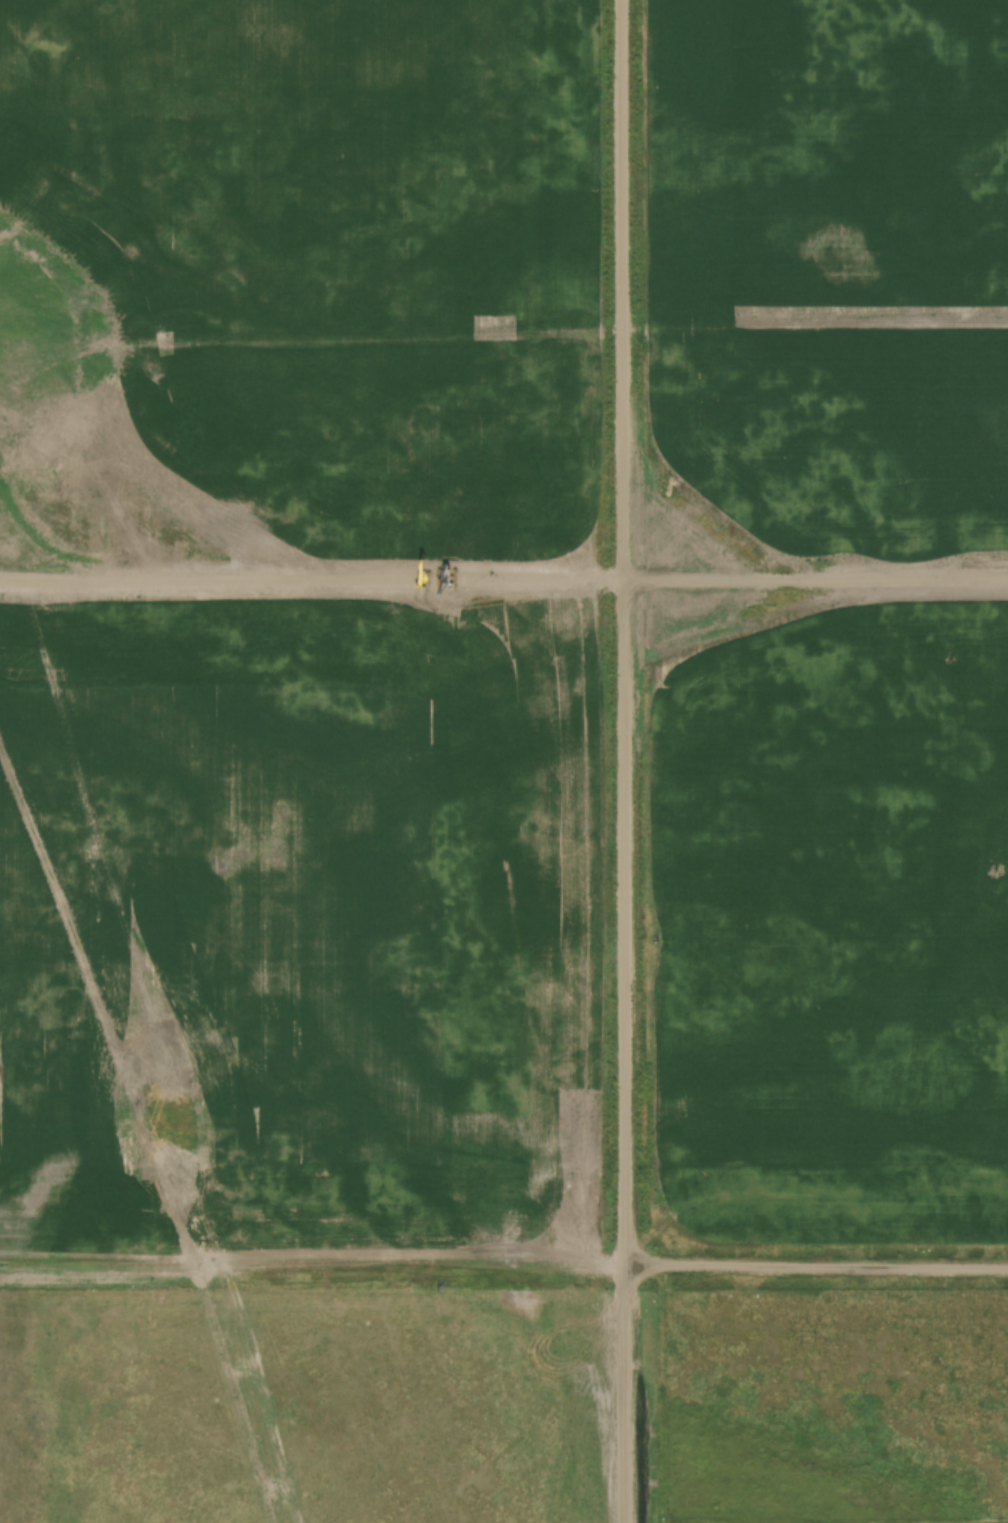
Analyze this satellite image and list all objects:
road: (625, 632)
road: (817, 1266)

